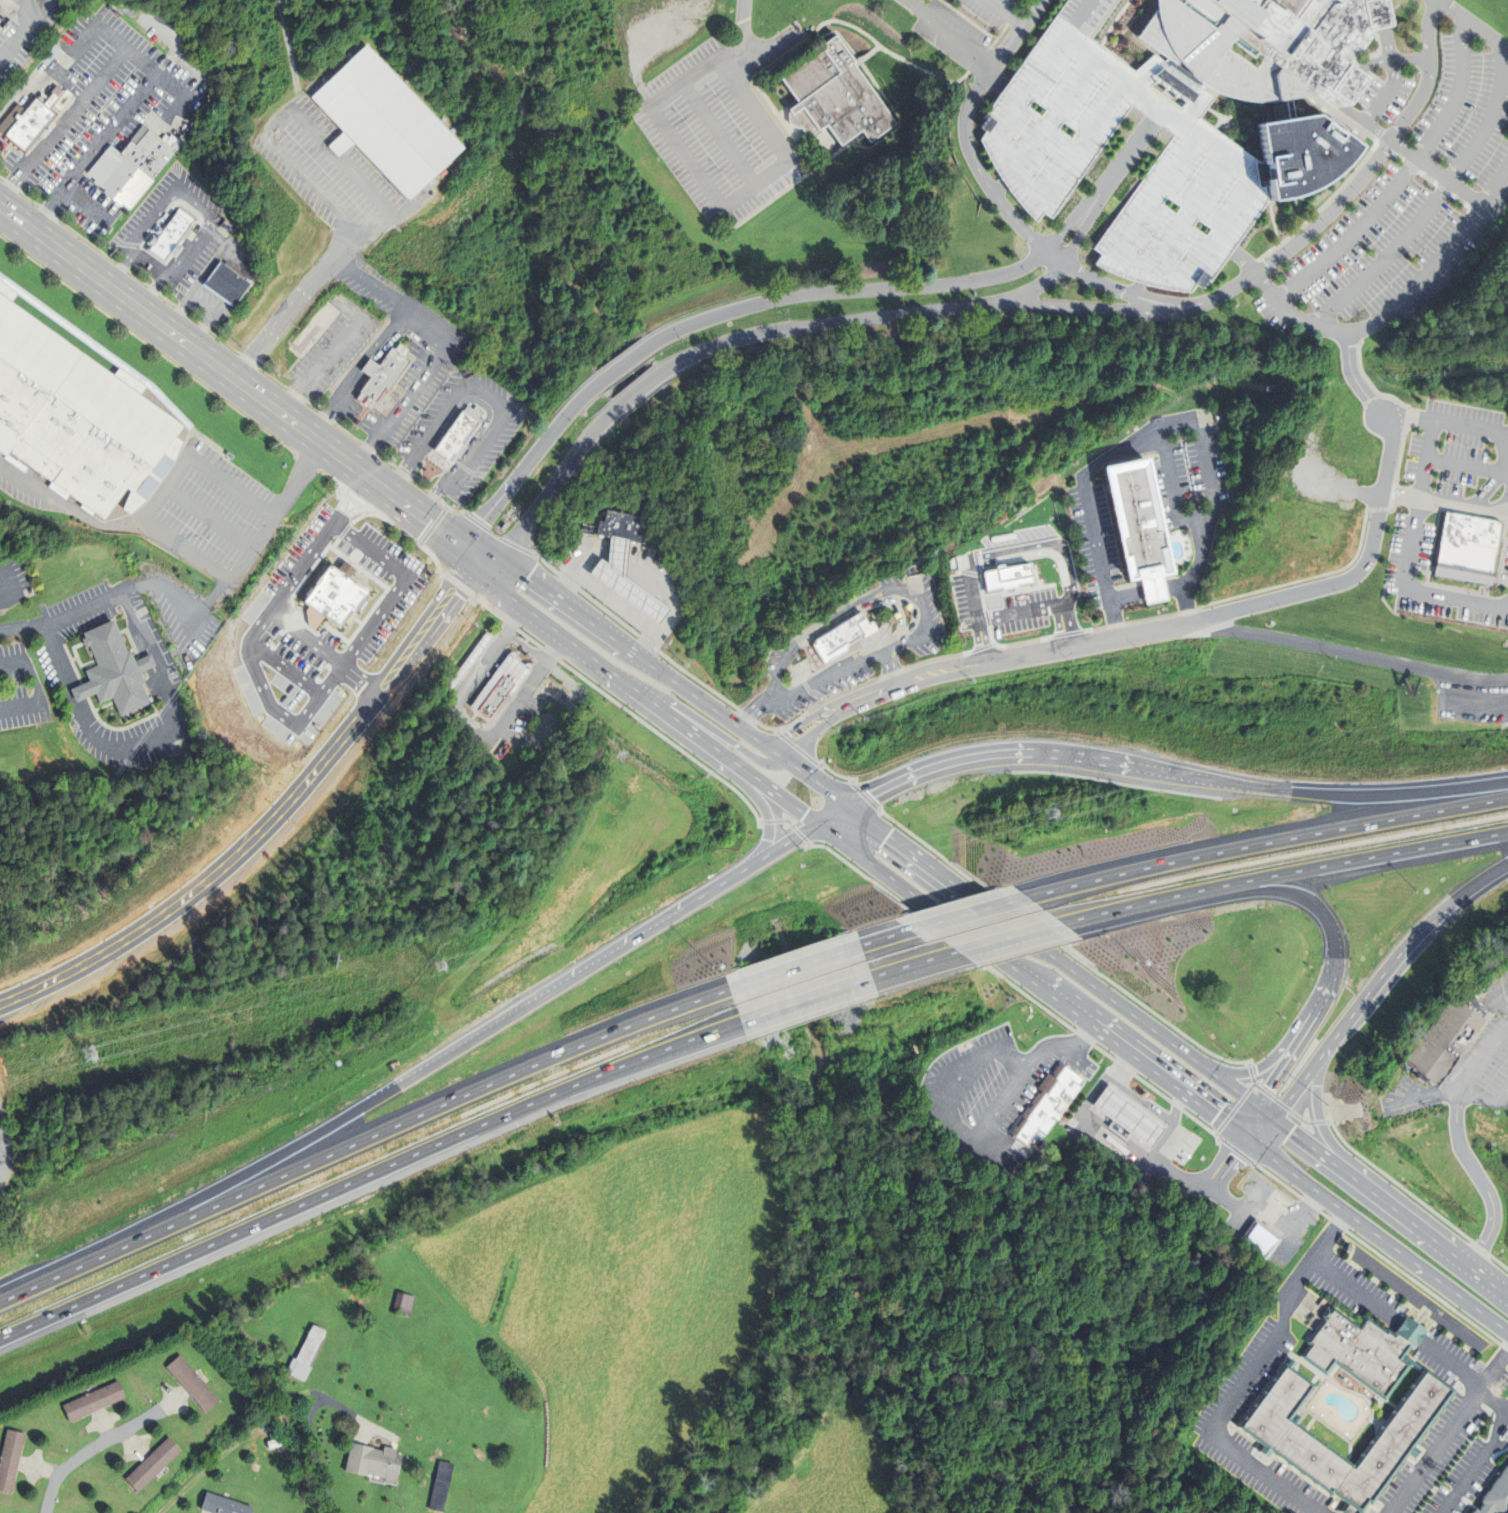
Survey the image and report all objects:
parking lot: (64, 3)
road: (34, 5)
road: (45, 5)
building: (1, 10)
road: (1002, 12)
parking lot: (22, 20)
road: (1383, 30)
road: (1015, 32)
road: (20, 37)
road: (844, 37)
road: (850, 38)
road: (810, 44)
building: (1269, 45)
road: (882, 53)
road: (133, 55)
road: (290, 55)
parking lot: (27, 56)
road: (861, 59)
road: (779, 71)
road: (939, 71)
road: (943, 71)
road: (968, 71)
road: (780, 79)
road: (1354, 85)
road: (69, 86)
road: (738, 87)
road: (24, 93)
road: (1386, 93)
building: (832, 95)
road: (793, 111)
parking lot: (90, 114)
building: (33, 119)
parking lot: (32, 121)
road: (302, 121)
building: (387, 122)
parking lot: (723, 123)
road: (55, 133)
road: (719, 134)
road: (677, 145)
road: (6, 150)
road: (94, 151)
building: (1042, 152)
parking lot: (1042, 152)
road: (1129, 153)
building: (1302, 156)
parking lot: (302, 160)
building: (136, 165)
parking lot: (5, 170)
road: (773, 170)
road: (796, 170)
road: (1454, 170)
road: (1433, 171)
road: (1401, 176)
road: (2, 177)
parking lot: (9, 184)
parking lot: (360, 186)
parking lot: (18, 192)
parking lot: (1402, 192)
parking lot: (34, 194)
road: (1097, 197)
road: (30, 198)
road: (193, 199)
road: (87, 204)
parking lot: (50, 215)
building: (171, 236)
road: (88, 241)
parking lot: (186, 245)
parking lot: (356, 255)
parking lot: (345, 272)
road: (201, 277)
road: (139, 278)
building: (228, 282)
road: (846, 290)
road: (1400, 298)
road: (167, 299)
road: (1156, 302)
road: (293, 305)
road: (203, 308)
road: (1091, 308)
road: (192, 317)
road: (862, 319)
building: (315, 329)
parking lot: (341, 338)
parking lot: (352, 338)
road: (224, 342)
road: (227, 343)
road: (443, 345)
road: (156, 350)
parking lot: (404, 353)
road: (624, 363)
road: (322, 364)
road: (293, 366)
road: (360, 372)
building: (382, 374)
road: (273, 377)
road: (1353, 377)
parking lot: (288, 383)
parking lot: (377, 387)
road: (247, 389)
road: (636, 392)
parking lot: (319, 395)
parking lot: (298, 397)
parking lot: (309, 397)
road: (483, 399)
road: (379, 403)
road: (313, 405)
building: (81, 411)
road: (1406, 417)
parking lot: (328, 420)
road: (1483, 426)
road: (345, 432)
road: (348, 432)
building: (460, 432)
road: (460, 432)
road: (457, 435)
road: (1132, 439)
road: (206, 440)
parking lot: (487, 443)
parking lot: (371, 451)
road: (388, 460)
road: (527, 464)
road: (1467, 464)
parking lot: (266, 470)
road: (1206, 472)
road: (420, 485)
road: (1170, 486)
road: (166, 487)
road: (232, 487)
road: (342, 487)
road: (1485, 490)
road: (551, 491)
road: (1443, 505)
road: (448, 506)
road: (67, 507)
parking lot: (221, 508)
road: (279, 512)
parking lot: (1189, 518)
road: (209, 519)
building: (622, 525)
building: (1138, 529)
road: (403, 532)
road: (494, 534)
road: (1096, 539)
building: (1466, 548)
road: (188, 550)
road: (1187, 552)
road: (1411, 553)
road: (1200, 554)
traffic signals: (479, 558)
road: (539, 563)
road: (1353, 574)
building: (321, 580)
parking lot: (13, 581)
building: (632, 581)
road: (1125, 585)
road: (7, 588)
road: (1144, 592)
road: (912, 602)
road: (1152, 618)
building: (680, 625)
road: (21, 627)
road: (1133, 634)
building: (842, 635)
building: (409, 644)
road: (555, 646)
road: (1001, 646)
road: (520, 648)
road: (581, 649)
road: (811, 652)
road: (804, 654)
road: (80, 662)
building: (471, 663)
road: (810, 664)
road: (796, 665)
road: (890, 666)
road: (84, 669)
building: (117, 670)
parking lot: (516, 670)
parking lot: (58, 674)
road: (82, 683)
parking lot: (504, 684)
road: (676, 684)
building: (505, 685)
parking lot: (531, 685)
road: (37, 688)
parking lot: (21, 690)
parking lot: (478, 698)
parking lot: (491, 698)
road: (546, 698)
road: (94, 712)
road: (454, 712)
road: (752, 715)
road: (177, 719)
road: (728, 742)
parking lot: (508, 746)
road: (1047, 755)
building: (193, 758)
road: (743, 786)
road: (1380, 795)
traffic signals: (871, 796)
power tower: (1055, 811)
traffic signals: (806, 815)
road: (836, 817)
road: (273, 819)
traffic signals: (889, 837)
road: (842, 842)
road: (1260, 843)
road: (785, 847)
road: (1276, 875)
road: (1486, 878)
road: (953, 884)
road: (1206, 900)
road: (968, 913)
road: (890, 935)
road: (1002, 940)
road: (618, 950)
road: (914, 964)
power tower: (441, 966)
road: (793, 966)
road: (1388, 969)
road: (804, 999)
building: (1446, 1041)
road: (1294, 1044)
road: (1124, 1050)
power tower: (87, 1052)
road: (1467, 1078)
road: (1287, 1101)
building: (1046, 1103)
road: (1176, 1110)
road: (419, 1114)
road: (1156, 1115)
road: (1081, 1116)
building: (1128, 1117)
gas station: (1128, 1117)
traffic signals: (1275, 1120)
road: (1285, 1127)
traffic signals: (1239, 1135)
road: (1246, 1140)
road: (302, 1143)
power substation: (4, 1144)
road: (1220, 1159)
road: (1233, 1169)
road: (2, 1173)
road: (1174, 1175)
road: (367, 1176)
road: (1480, 1180)
road: (1207, 1188)
building: (1274, 1208)
building: (1260, 1238)
road: (1380, 1239)
road: (57, 1277)
building: (356, 1287)
crop: (631, 1293)
building: (404, 1303)
building: (308, 1352)
building: (334, 1379)
road: (1244, 1381)
building: (194, 1382)
building: (95, 1400)
road: (1493, 1403)
building: (1273, 1408)
road: (310, 1430)
road: (1448, 1432)
building: (1505, 1434)
road: (100, 1442)
building: (277, 1442)
building: (1507, 1454)
building: (11, 1458)
building: (375, 1461)
building: (154, 1463)
crop: (832, 1463)
building: (443, 1486)
building: (1496, 1497)
building: (225, 1504)

